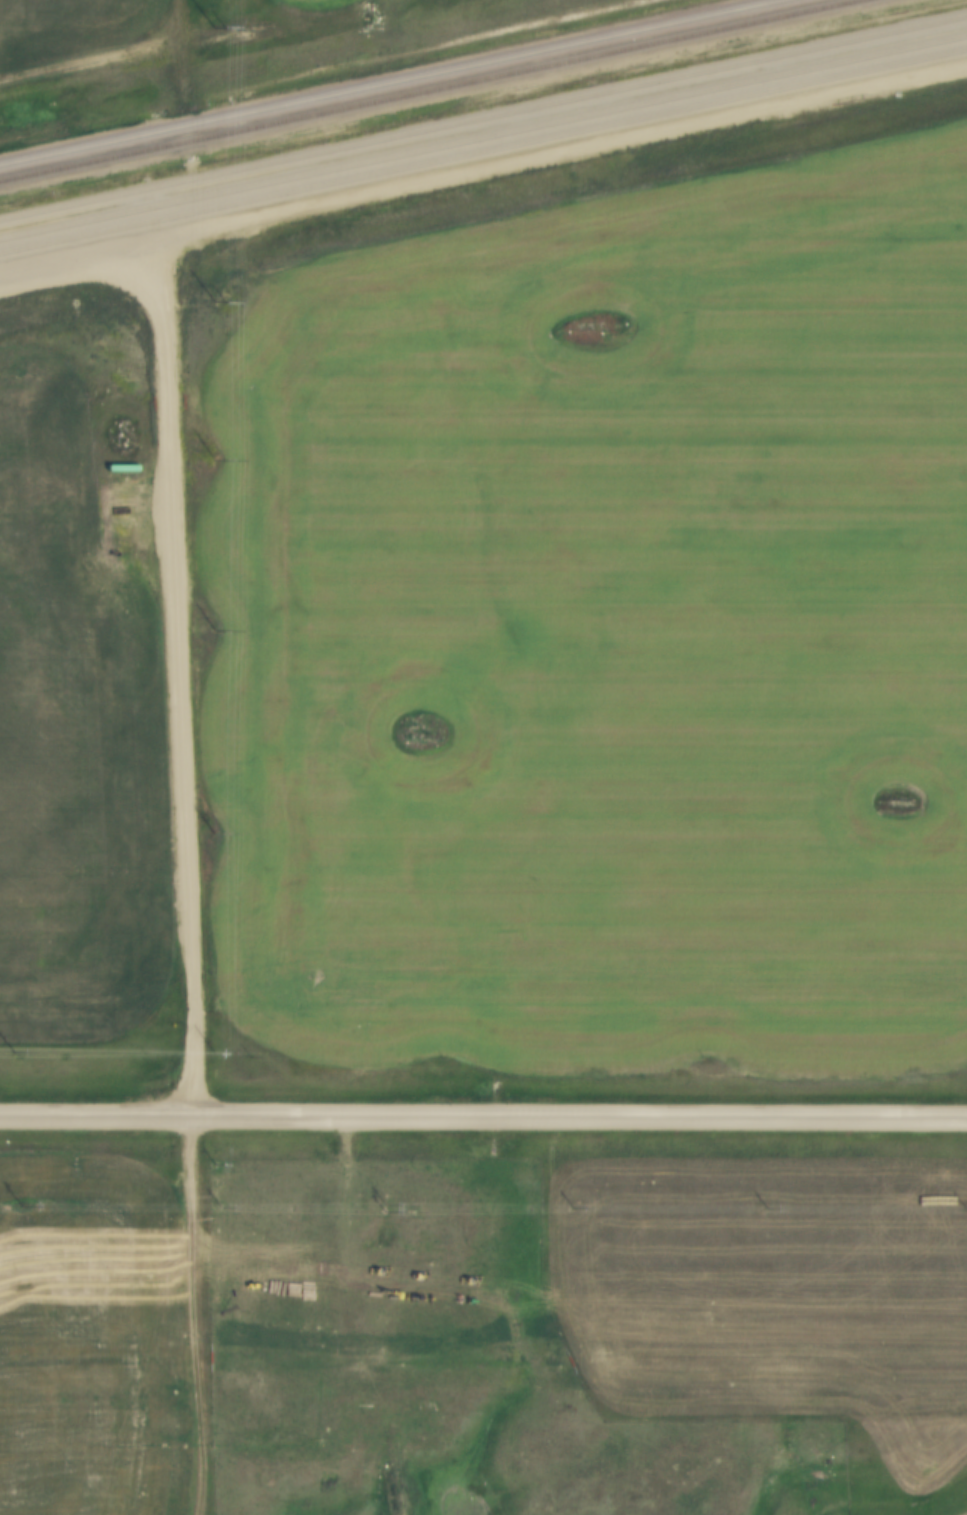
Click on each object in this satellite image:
power tower: (215, 26)
road: (181, 44)
railway: (378, 79)
railway: (421, 89)
railway: (483, 114)
railway: (483, 134)
railway: (483, 151)
power tower: (217, 300)
road: (193, 682)
road: (483, 1116)
road: (191, 1315)

